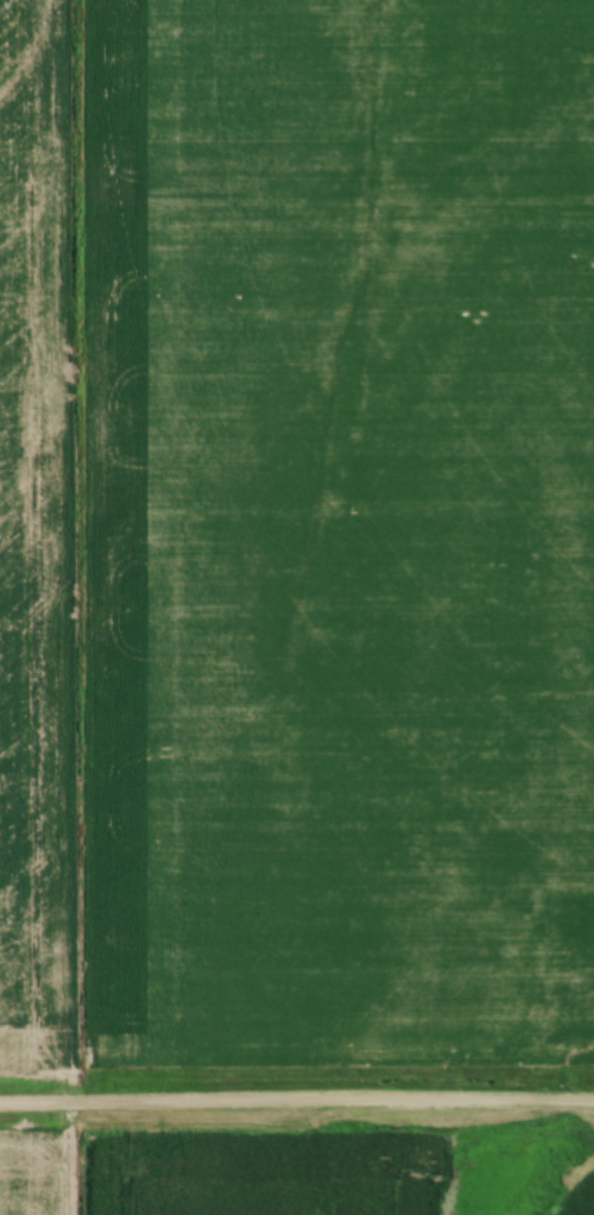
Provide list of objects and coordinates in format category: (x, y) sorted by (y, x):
road: (297, 1103)
crop: (187, 1175)
crop: (25, 1181)

